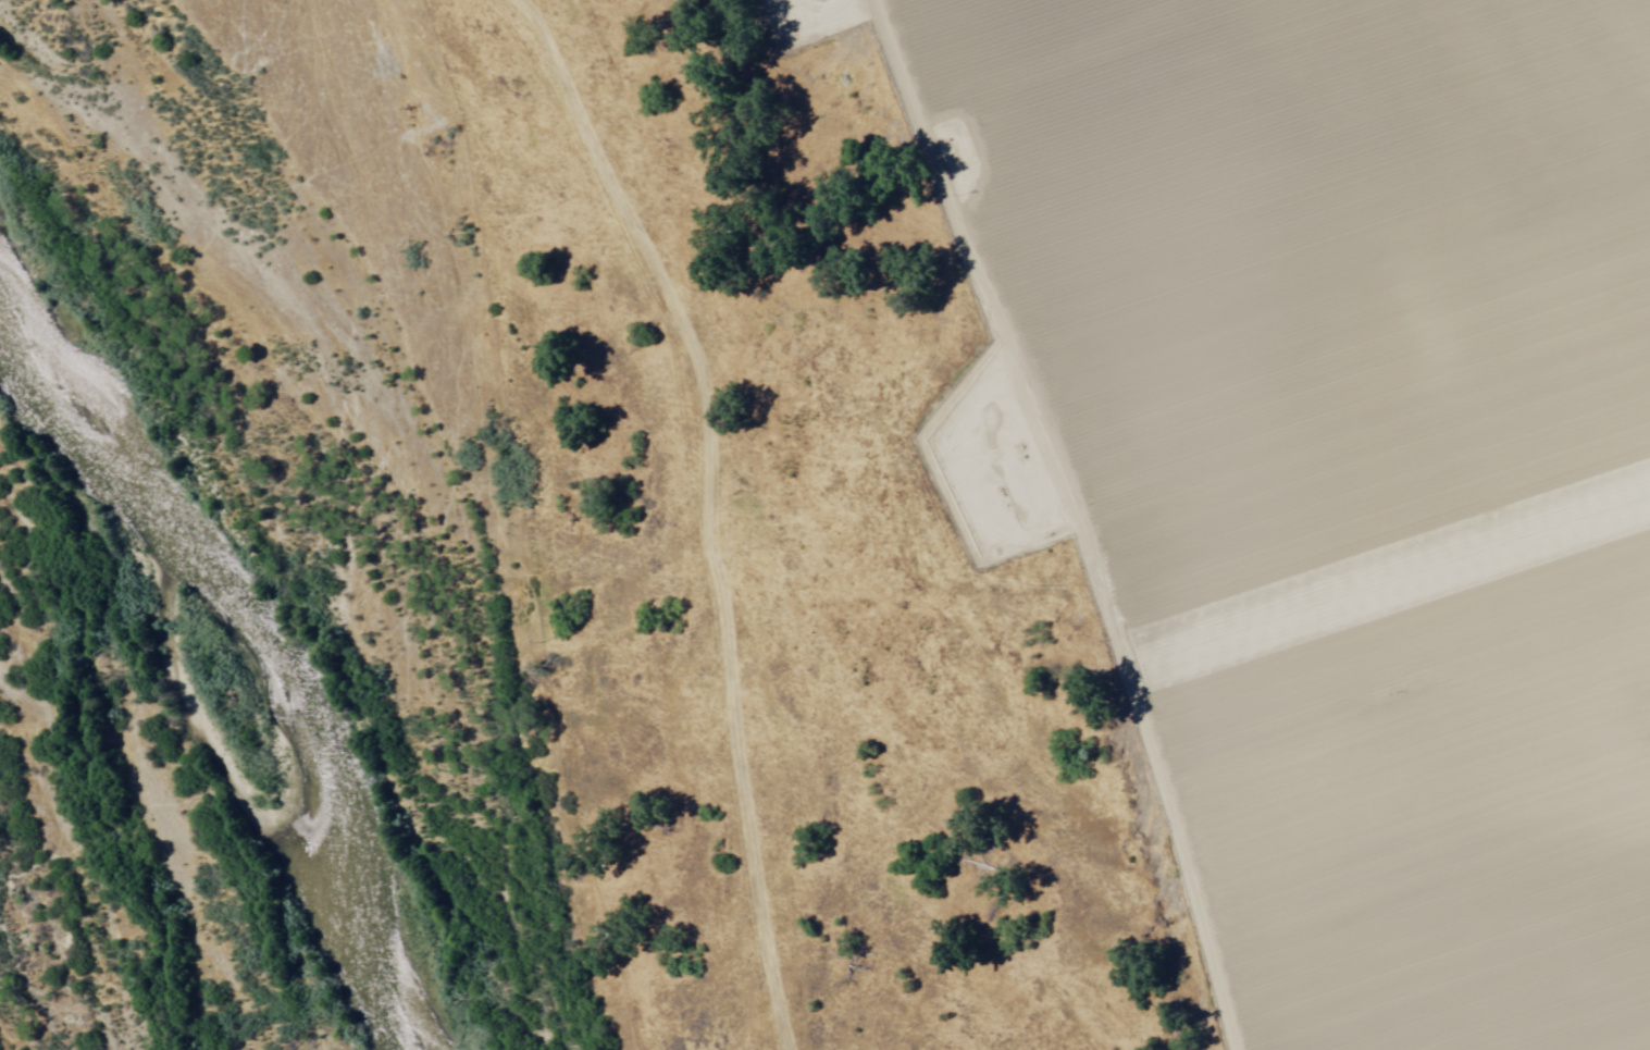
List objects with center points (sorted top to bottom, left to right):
crop: (1347, 471)
road: (501, 512)
river: (208, 640)

